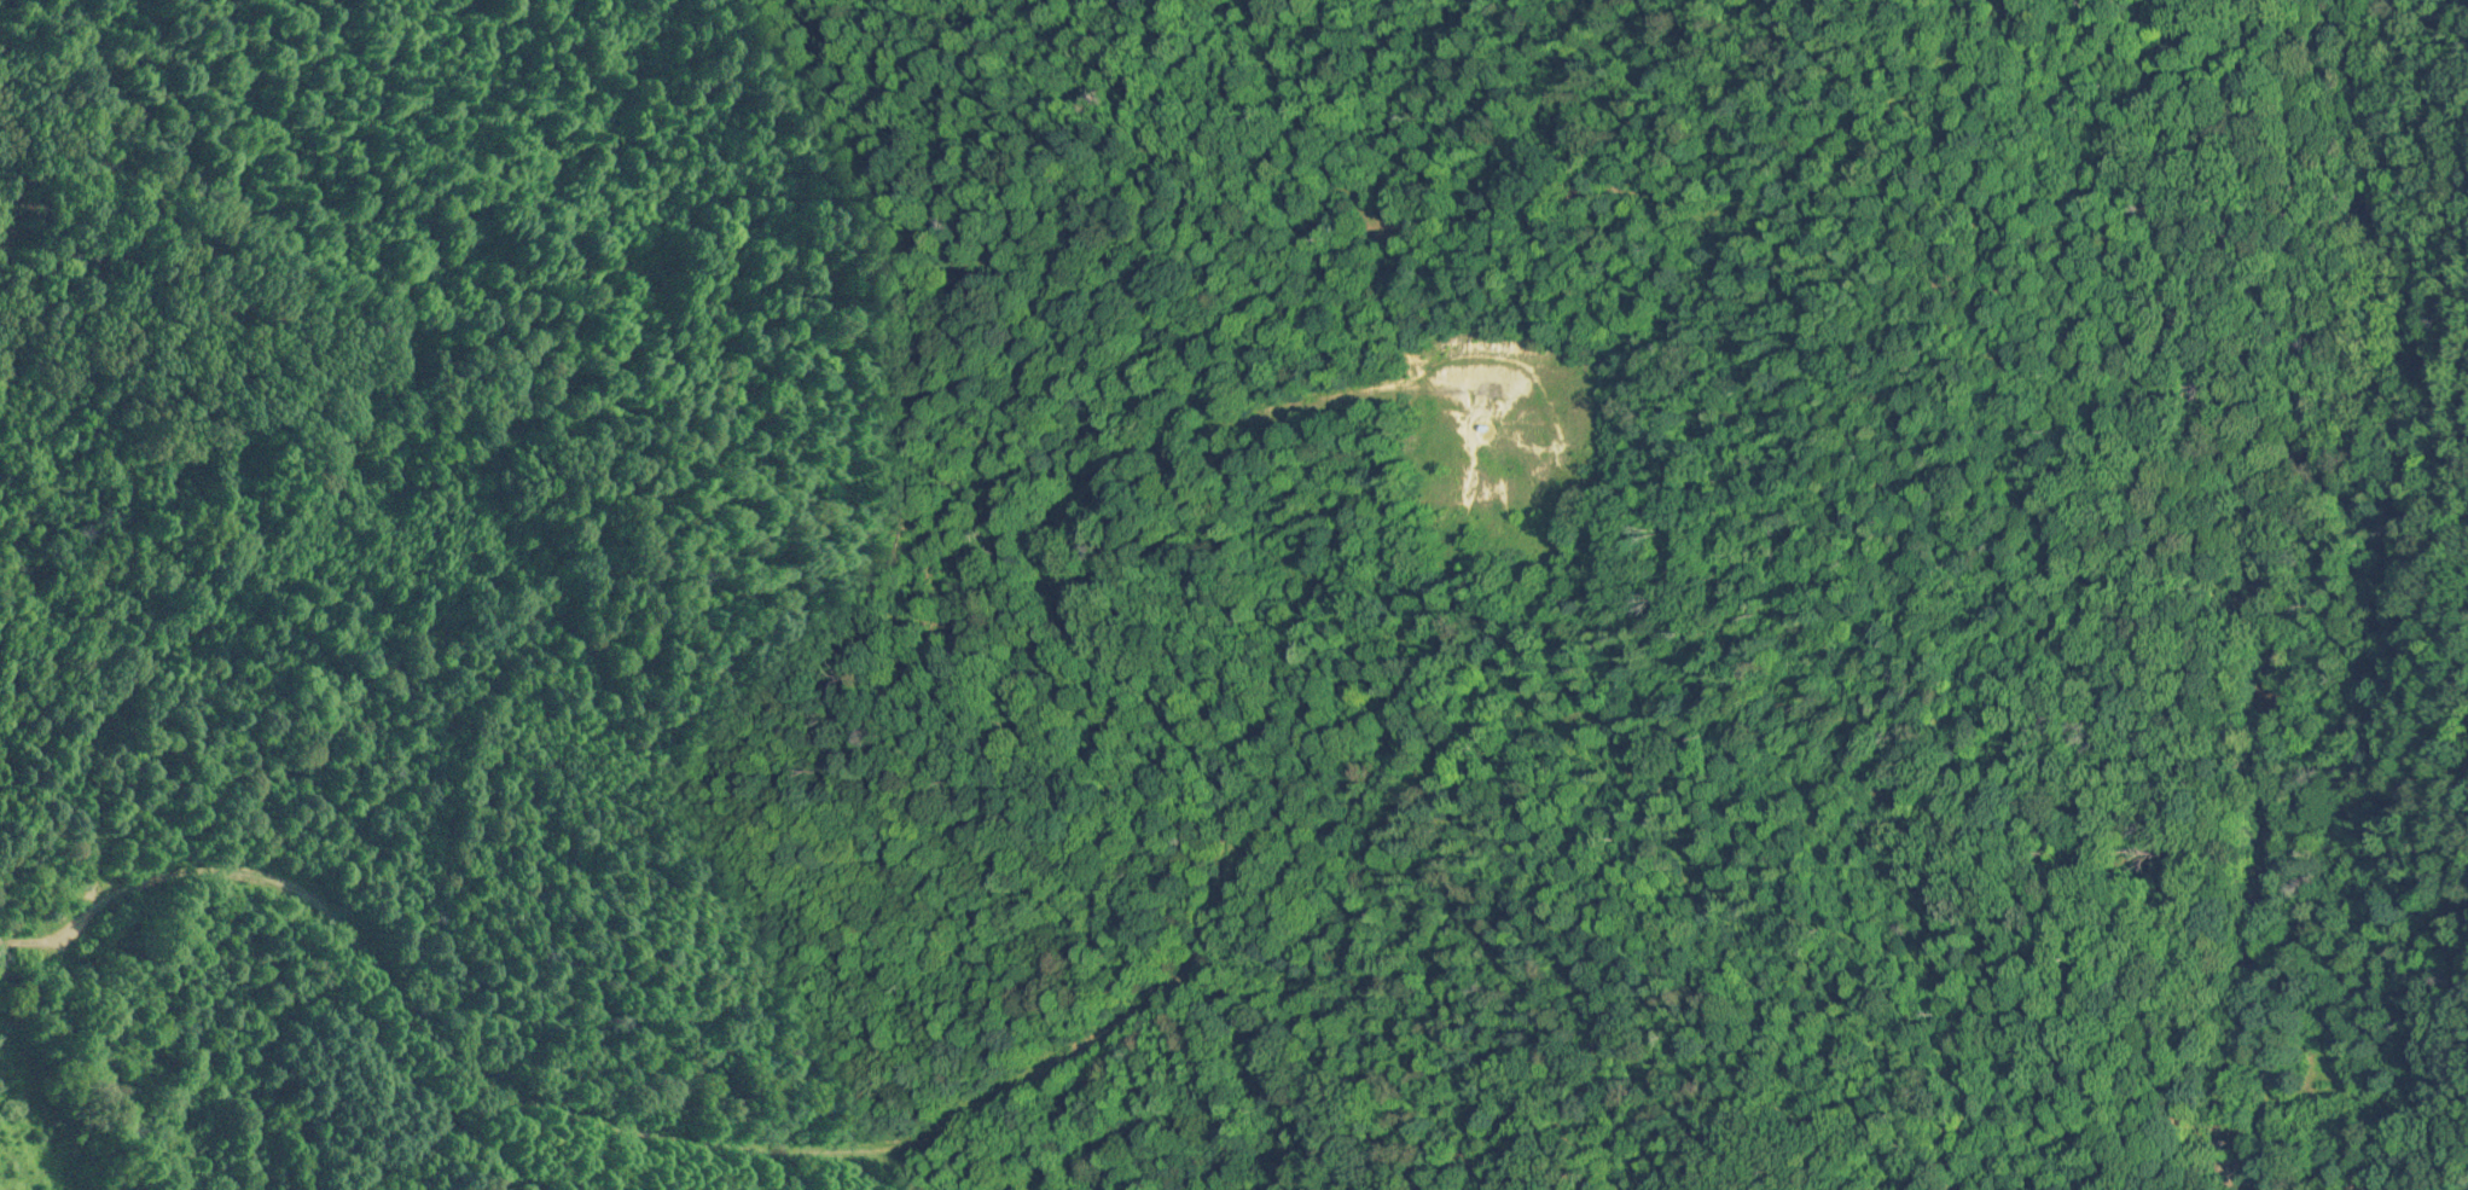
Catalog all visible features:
road: (71, 1056)

